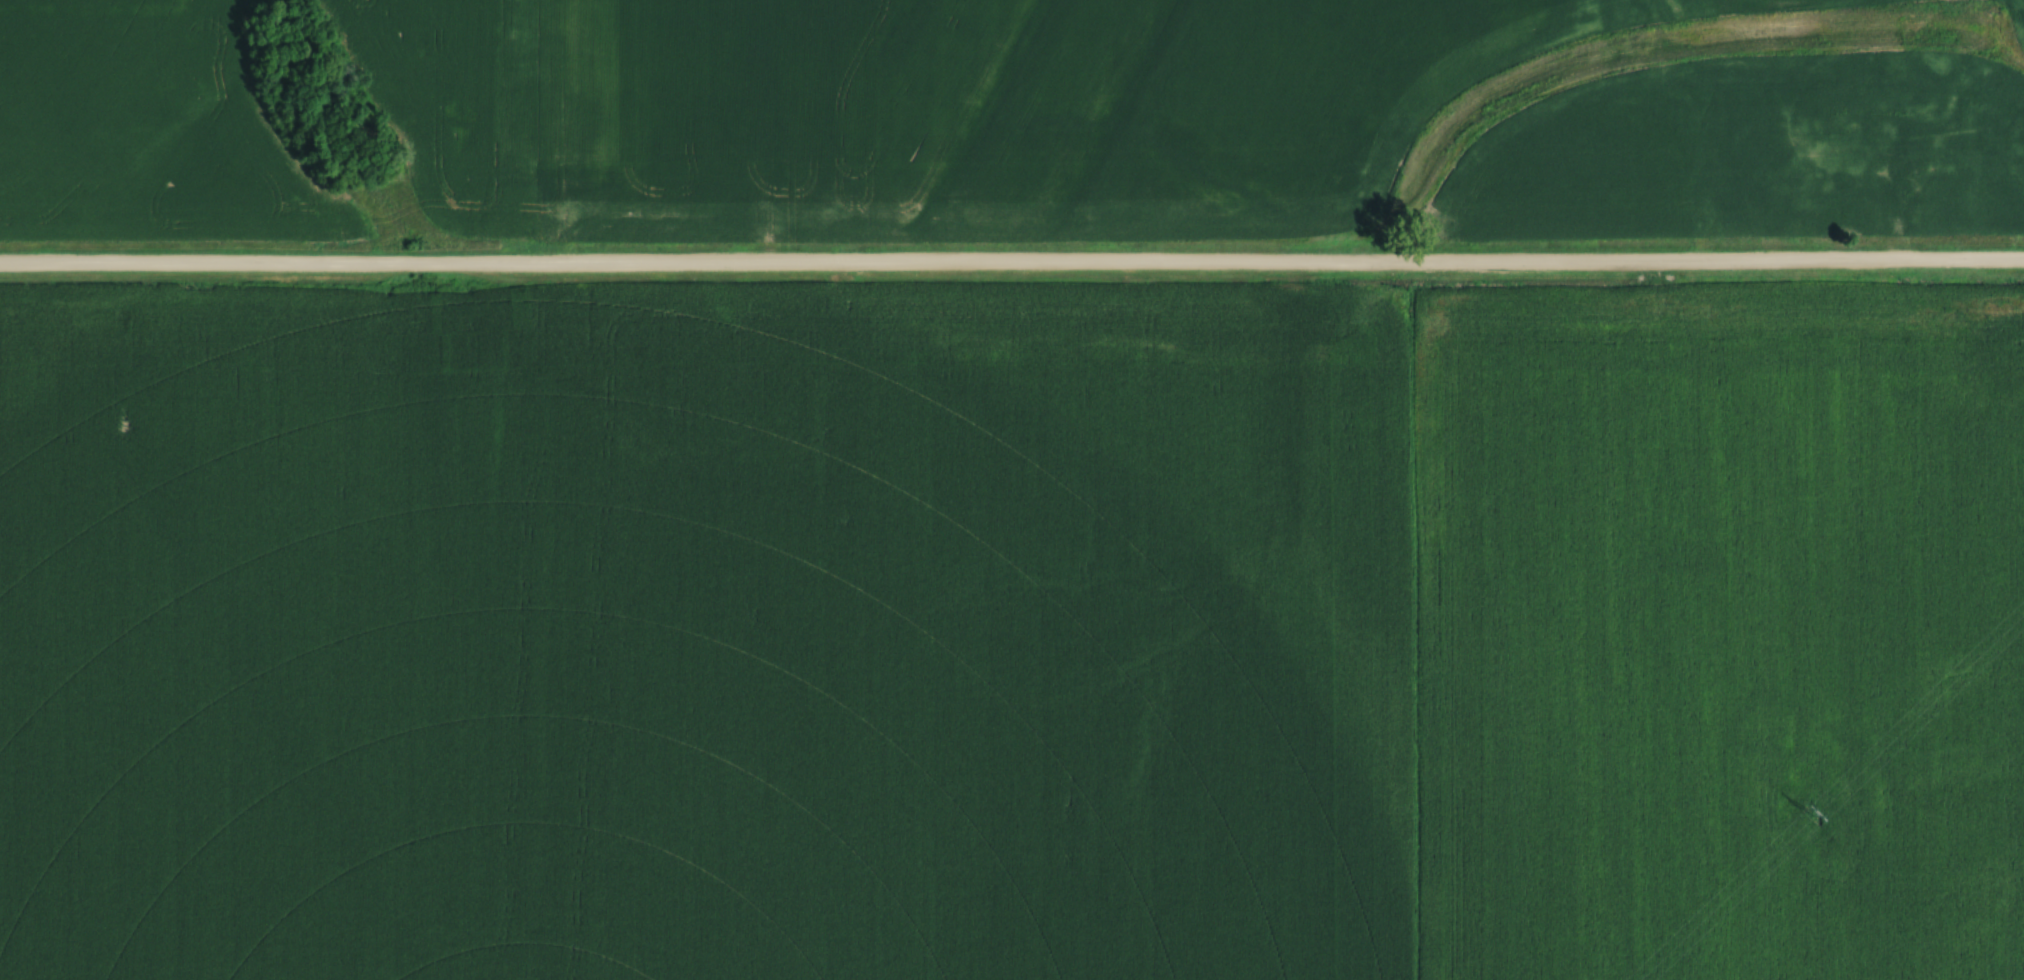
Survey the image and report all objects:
building: (1855, 157)
building: (2022, 180)
building: (1942, 198)
road: (1012, 263)
power tower: (1810, 812)

